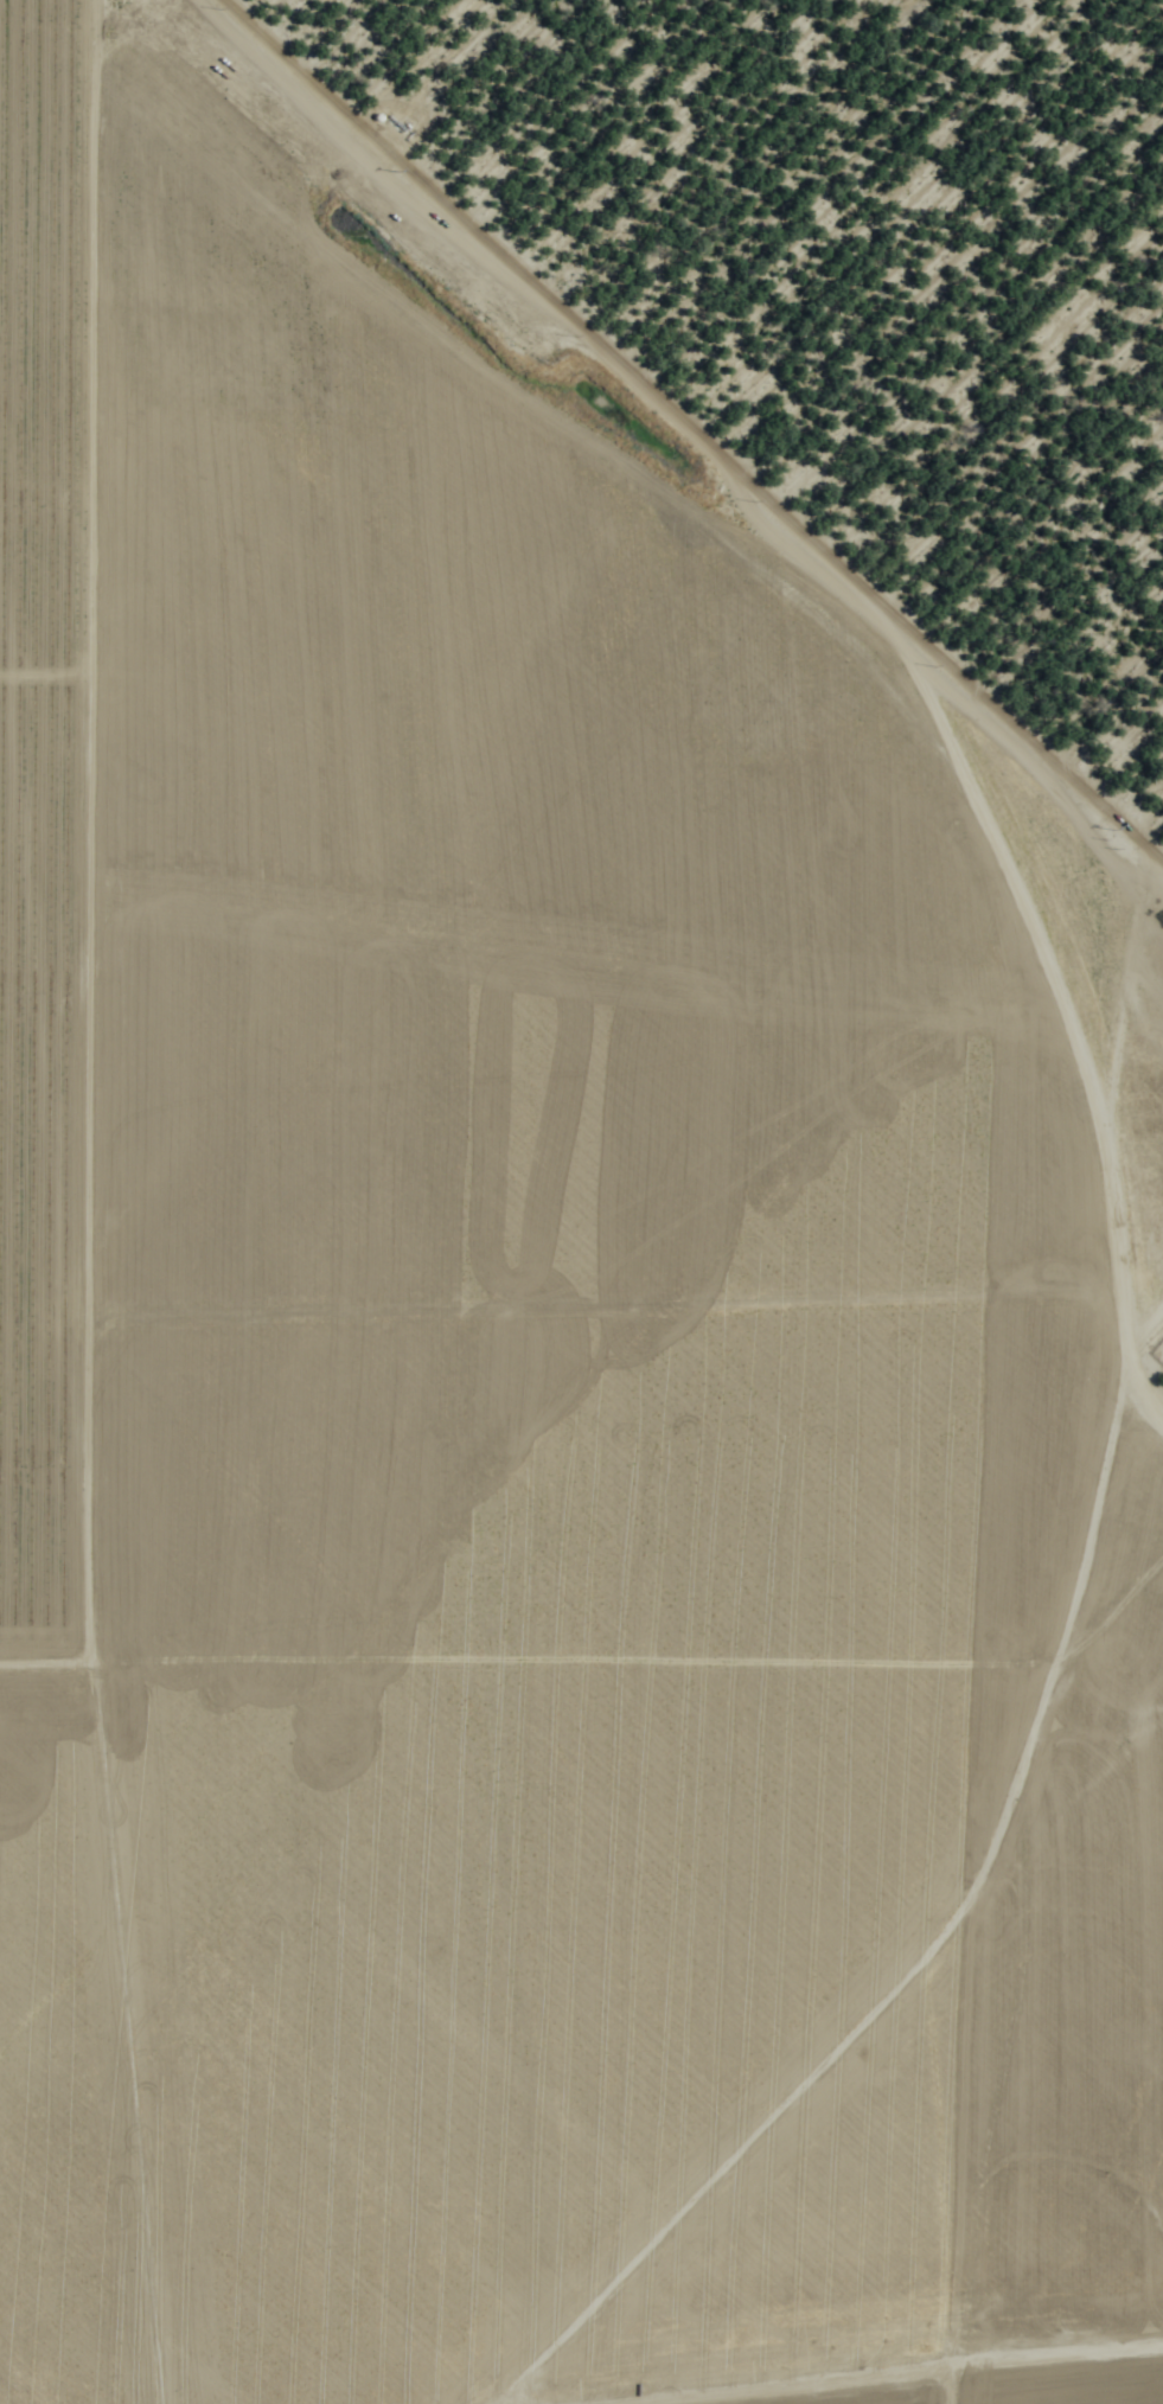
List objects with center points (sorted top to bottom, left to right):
crop: (491, 1279)
crop: (838, 2342)

